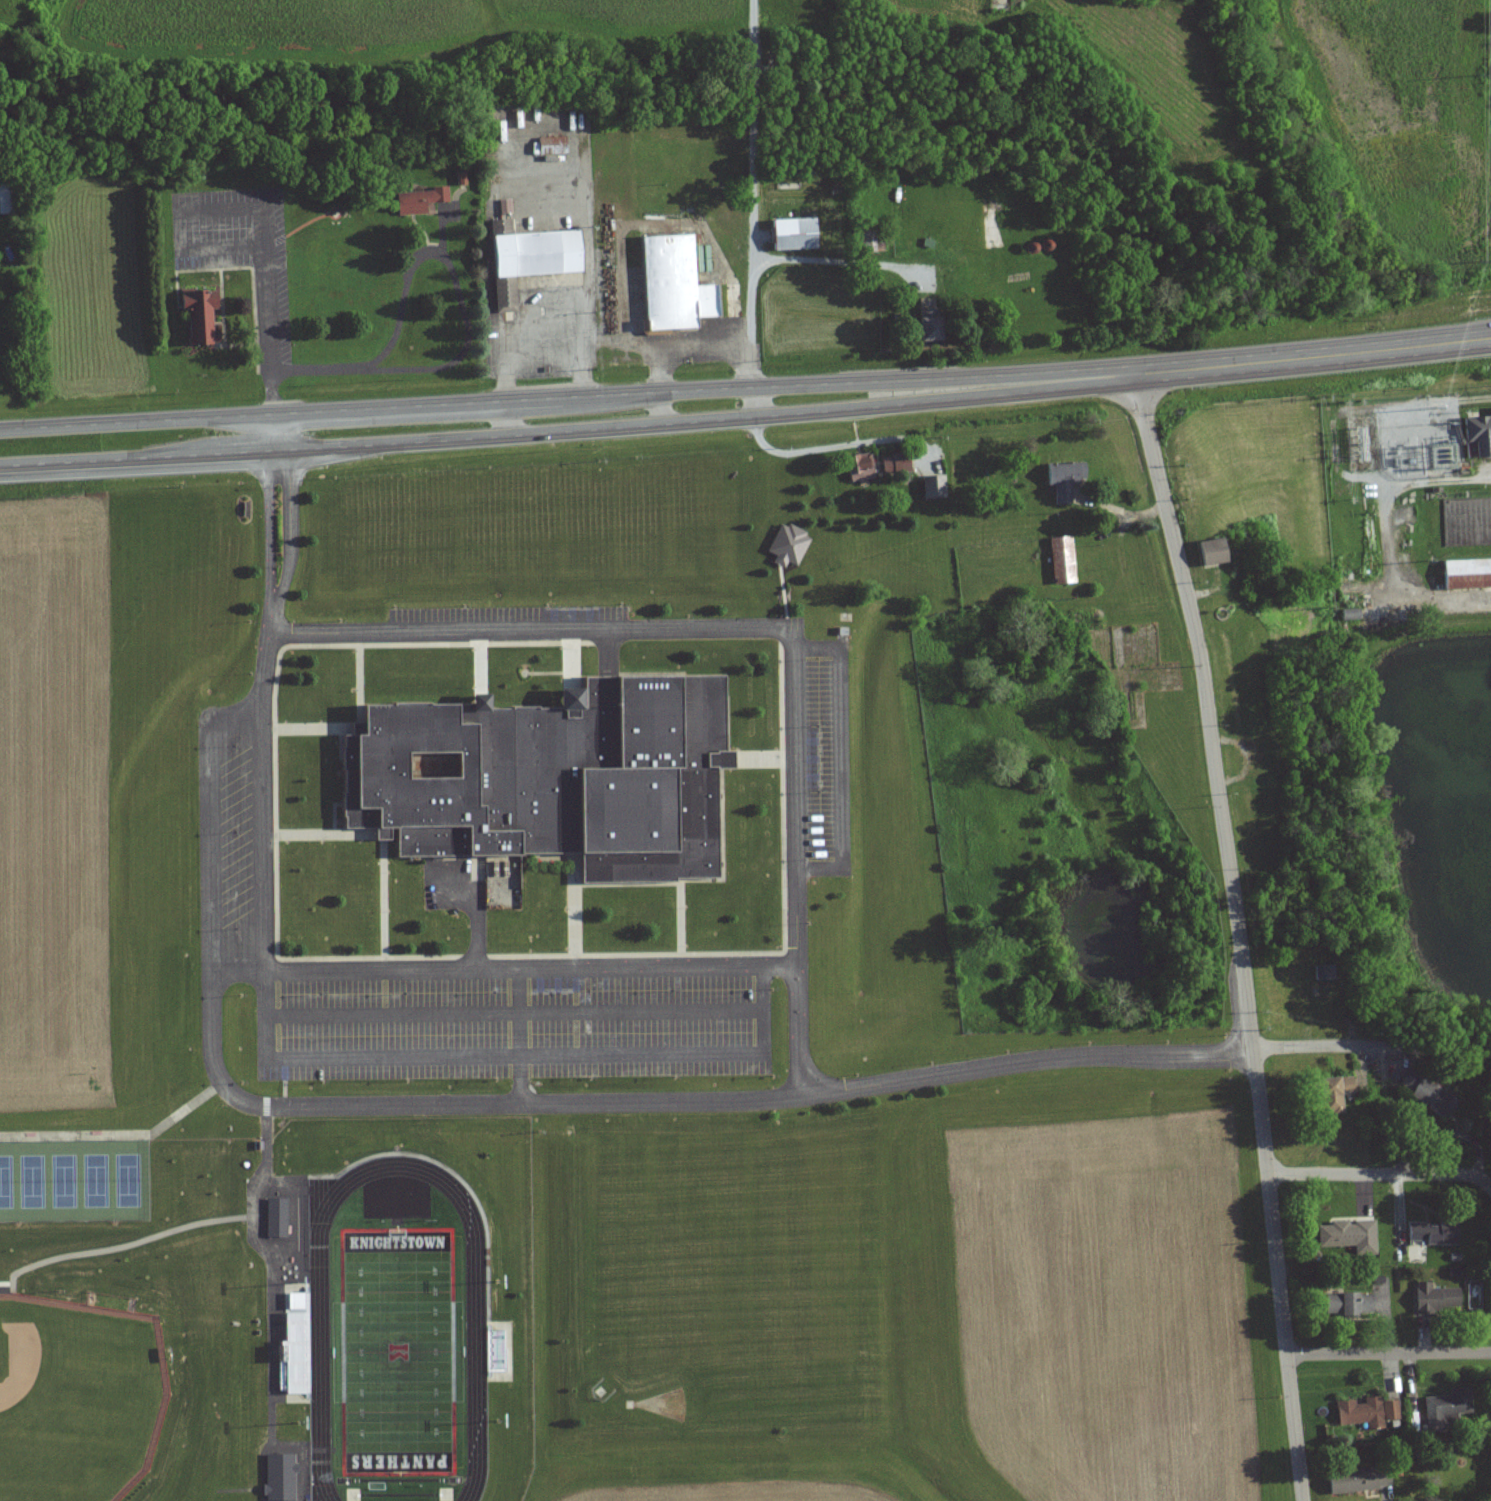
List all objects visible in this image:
road: (752, 33)
building: (551, 146)
road: (751, 163)
building: (418, 201)
building: (503, 206)
building: (791, 234)
building: (857, 243)
road: (424, 254)
road: (844, 261)
road: (267, 270)
building: (672, 283)
building: (199, 315)
road: (524, 318)
road: (751, 323)
building: (923, 329)
road: (637, 337)
road: (704, 343)
road: (1383, 350)
road: (1205, 368)
road: (567, 397)
road: (568, 432)
building: (1477, 436)
power substation: (1419, 450)
building: (893, 464)
building: (856, 467)
building: (1061, 480)
building: (930, 486)
building: (1467, 522)
road: (1388, 537)
building: (786, 546)
building: (1209, 552)
building: (1060, 561)
building: (1465, 574)
building: (1349, 615)
road: (839, 757)
building: (553, 777)
road: (1237, 934)
road: (674, 963)
road: (798, 1028)
road: (516, 1034)
road: (1371, 1045)
road: (513, 1057)
building: (1332, 1093)
building: (1424, 1094)
road: (652, 1100)
road: (1380, 1173)
park: (64, 1180)
park: (96, 1180)
park: (128, 1180)
park: (6, 1181)
park: (33, 1181)
building: (279, 1218)
building: (1430, 1233)
building: (1346, 1236)
road: (268, 1281)
building: (1432, 1299)
building: (1346, 1304)
park: (398, 1351)
road: (1388, 1352)
track: (476, 1353)
building: (1445, 1407)
building: (1364, 1412)
building: (279, 1478)
building: (1355, 1480)

